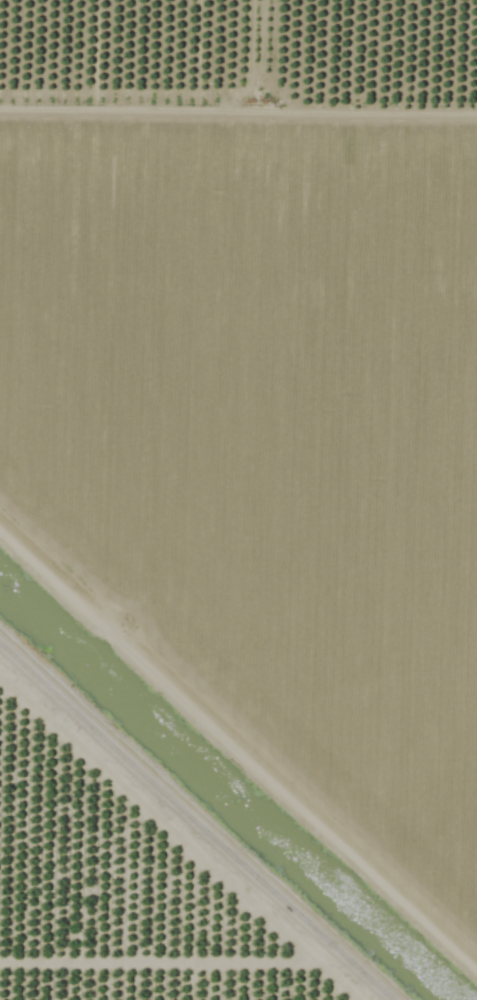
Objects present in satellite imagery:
crop: (238, 500)
road: (192, 822)

